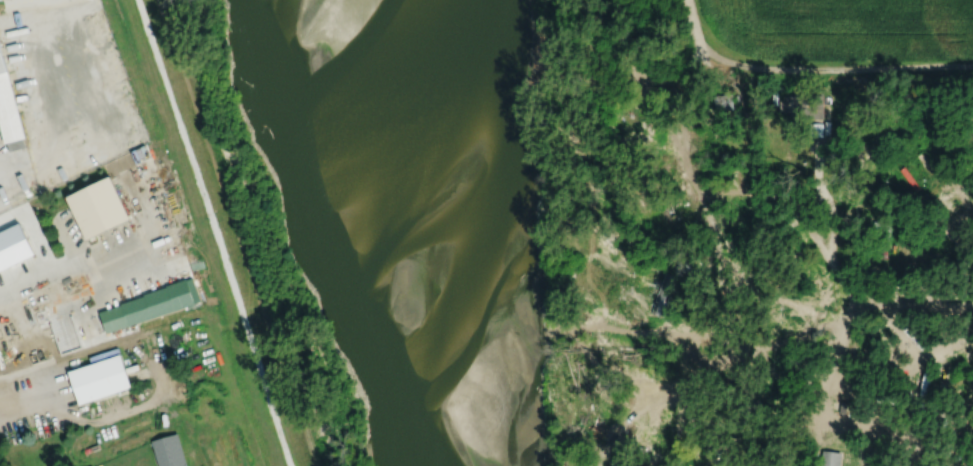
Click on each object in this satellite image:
building: (671, 95)
building: (8, 104)
building: (810, 105)
road: (65, 114)
building: (99, 205)
building: (952, 222)
building: (727, 224)
building: (610, 226)
road: (832, 230)
river: (423, 232)
road: (112, 266)
building: (639, 295)
building: (152, 303)
road: (915, 307)
building: (70, 335)
road: (748, 346)
building: (100, 378)
road: (818, 384)
building: (923, 384)
building: (960, 387)
road: (105, 417)
road: (865, 429)
building: (170, 450)
building: (829, 458)

